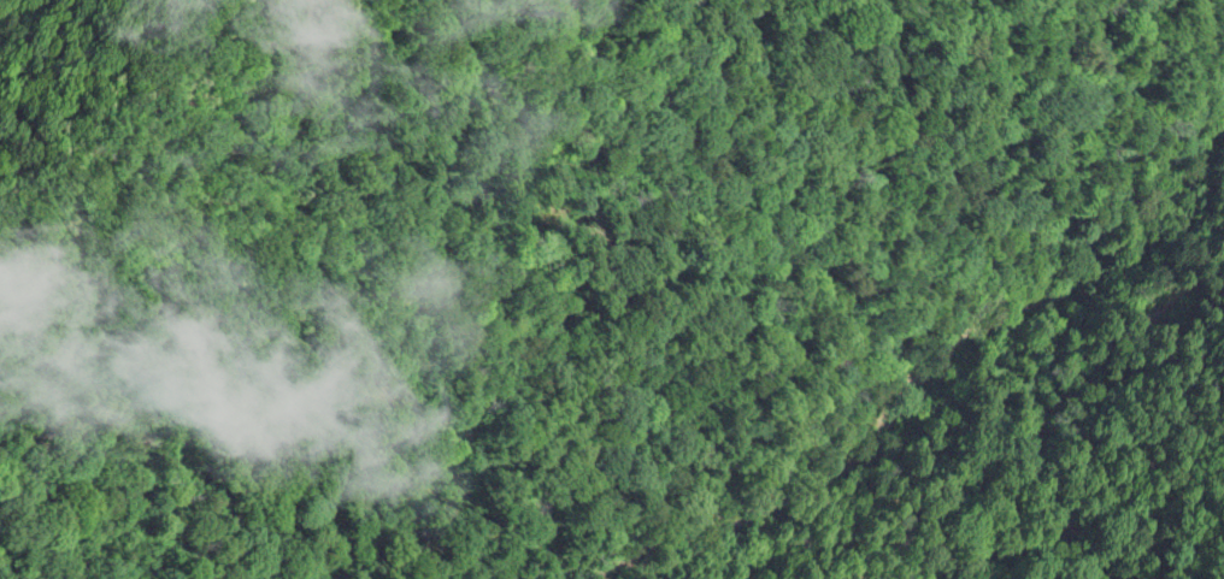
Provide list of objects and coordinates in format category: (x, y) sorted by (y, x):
road: (1184, 200)

